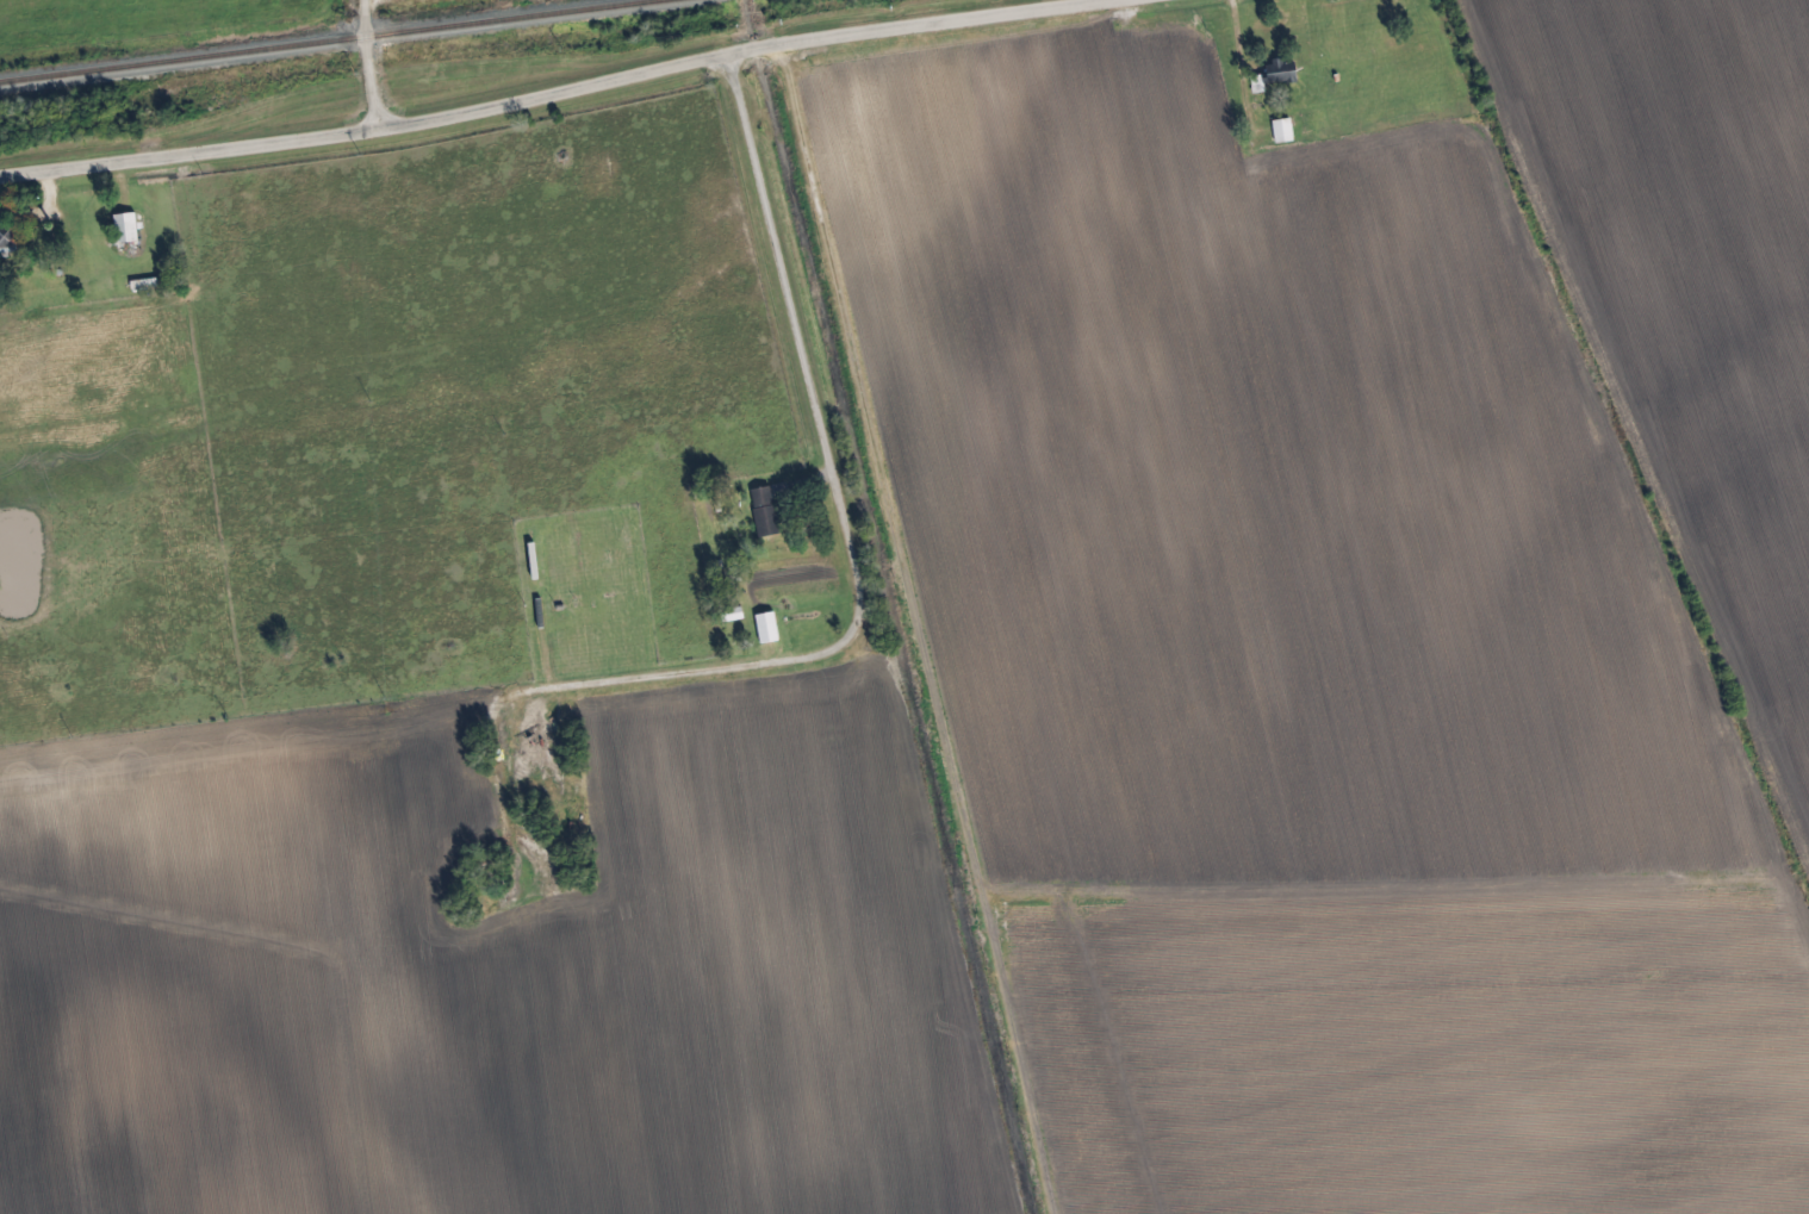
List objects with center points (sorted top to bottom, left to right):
road: (363, 18)
railway: (331, 41)
road: (372, 83)
road: (565, 92)
building: (129, 230)
building: (7, 238)
building: (783, 492)
building: (767, 513)
road: (844, 518)
building: (770, 630)

